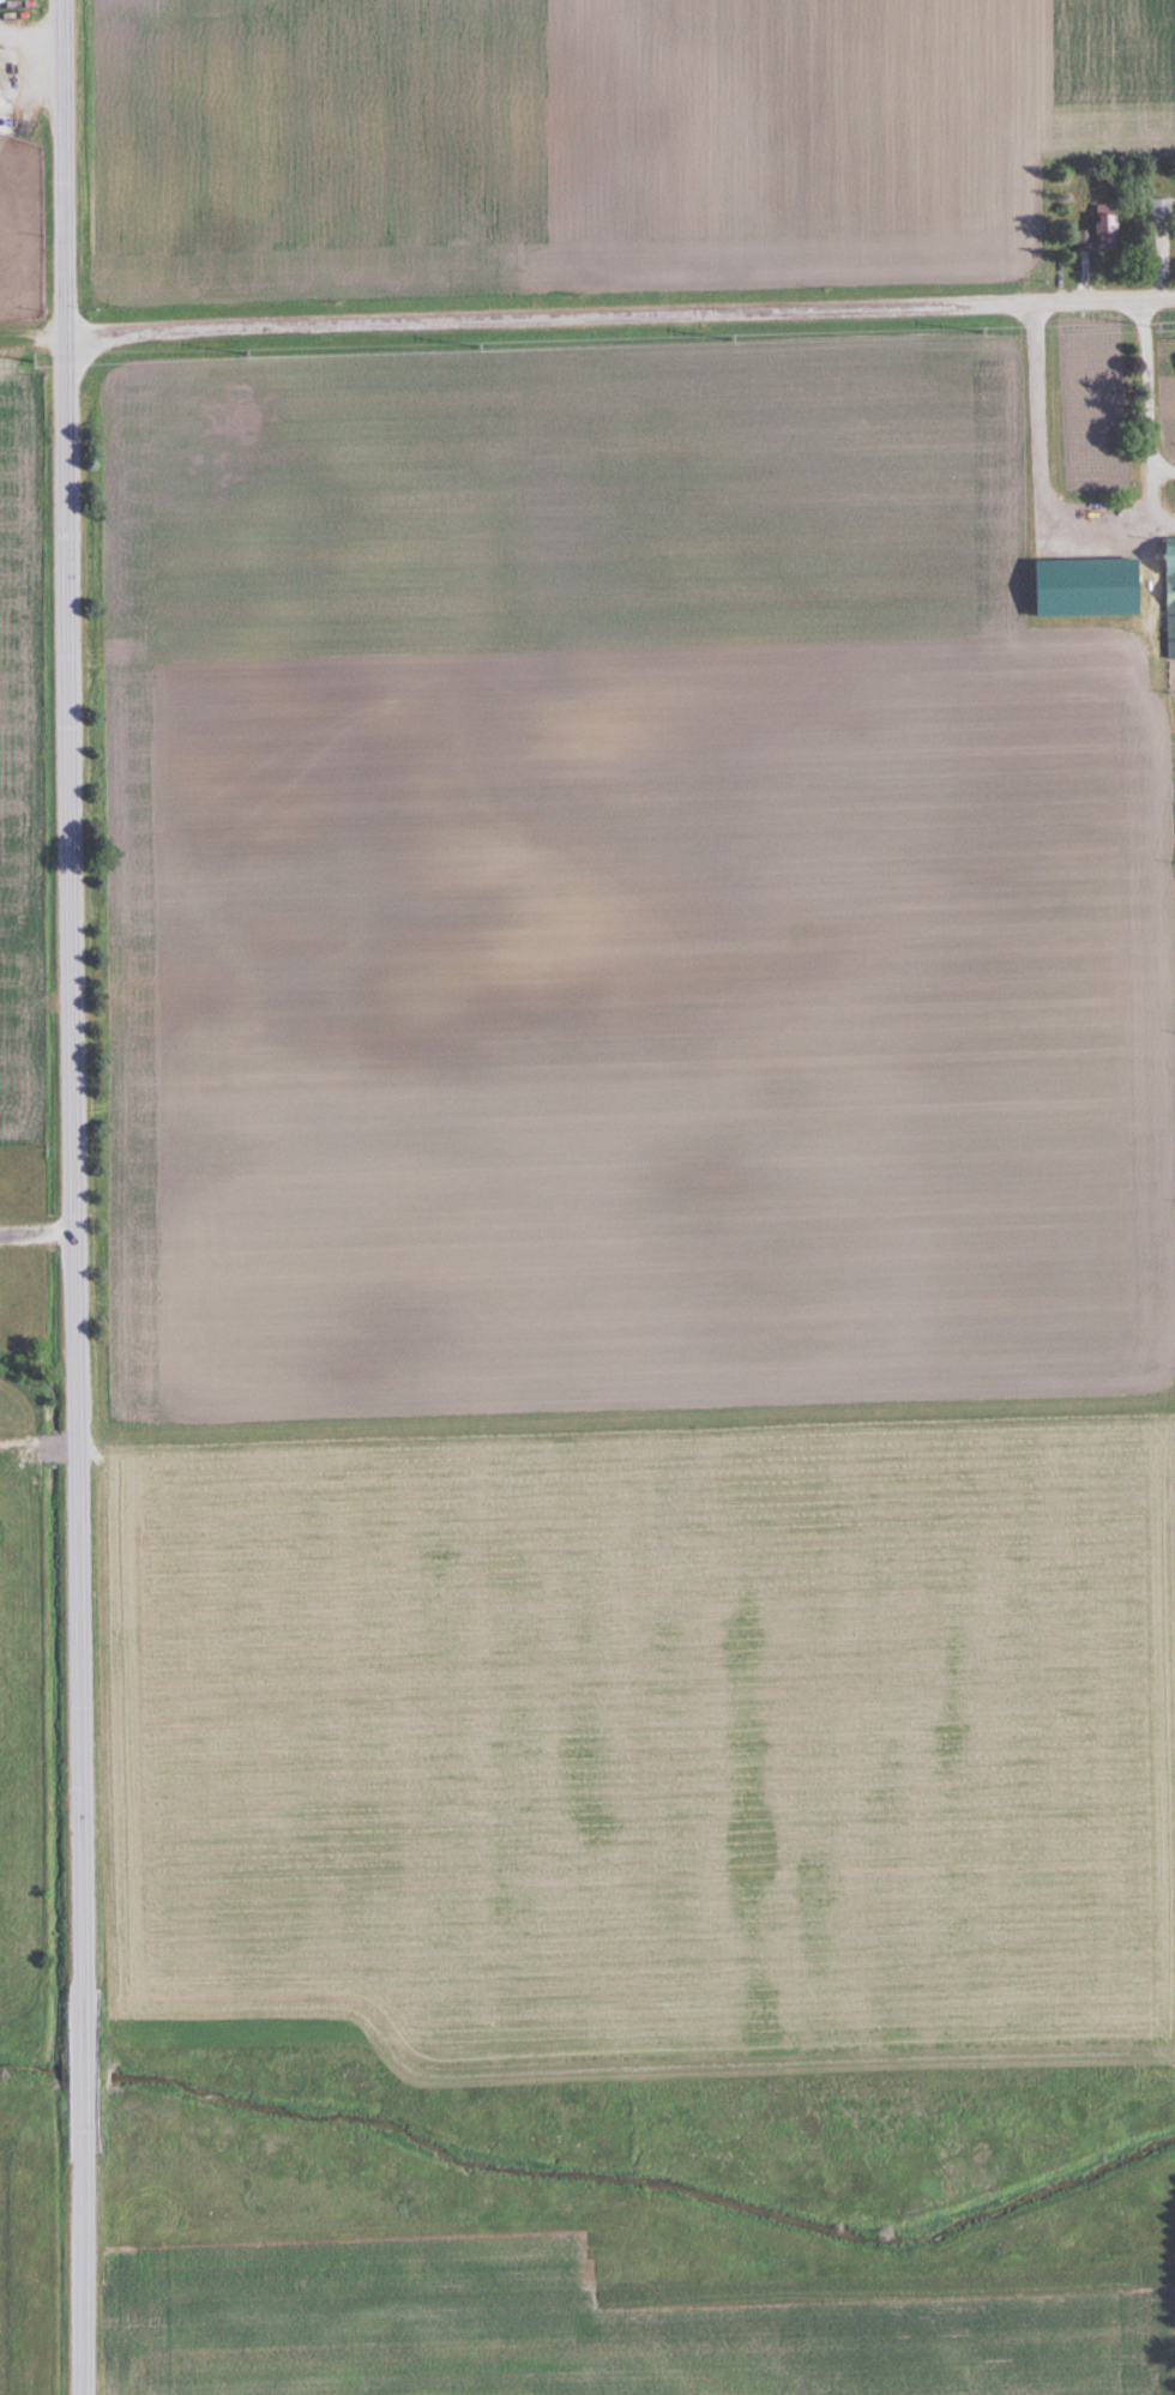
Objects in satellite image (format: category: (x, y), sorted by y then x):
building: (2, 1)
road: (31, 35)
building: (1159, 209)
building: (1101, 228)
road: (616, 315)
road: (1149, 382)
road: (1163, 470)
road: (1153, 500)
building: (1081, 562)
building: (1128, 568)
building: (1169, 597)
road: (72, 1197)

